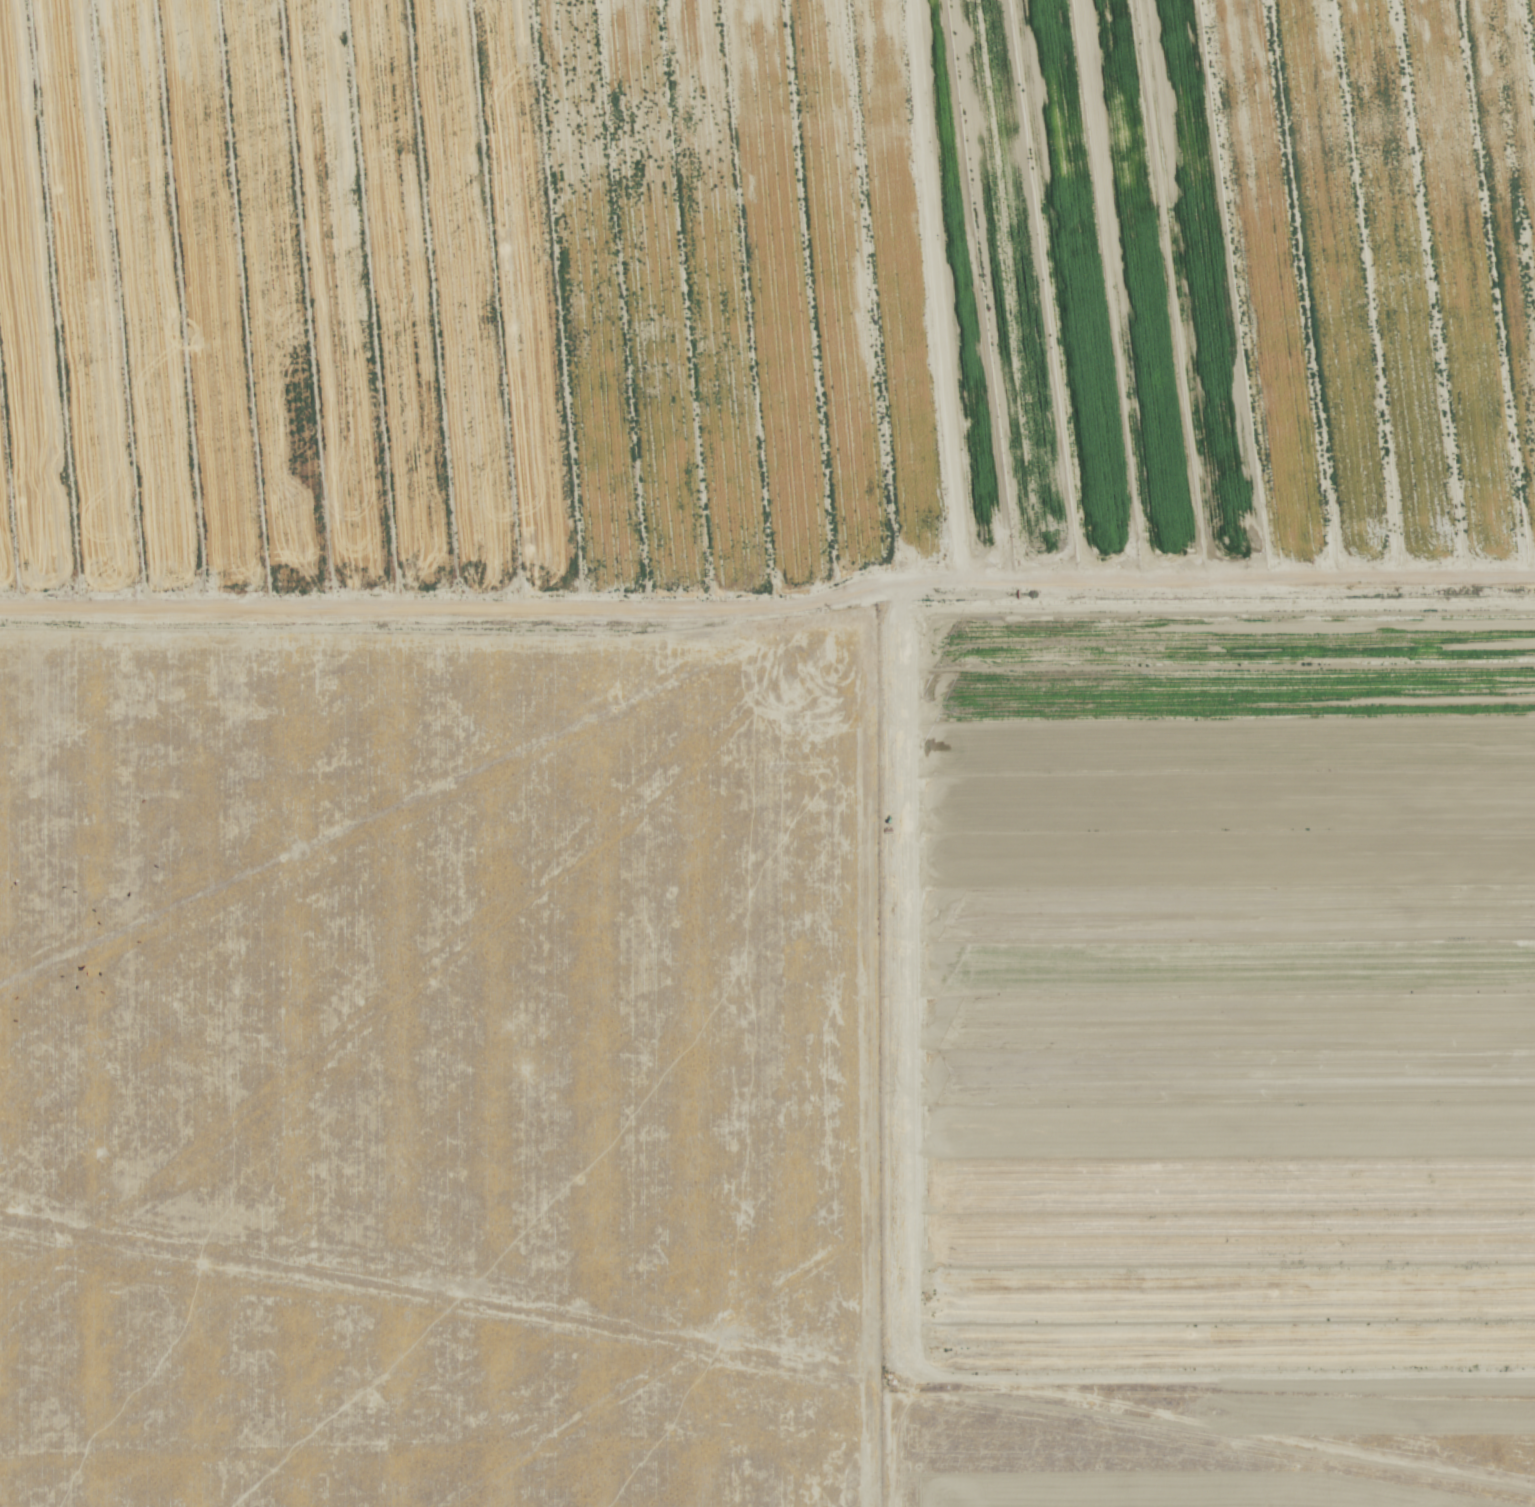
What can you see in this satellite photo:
road: (771, 618)
road: (440, 1301)

